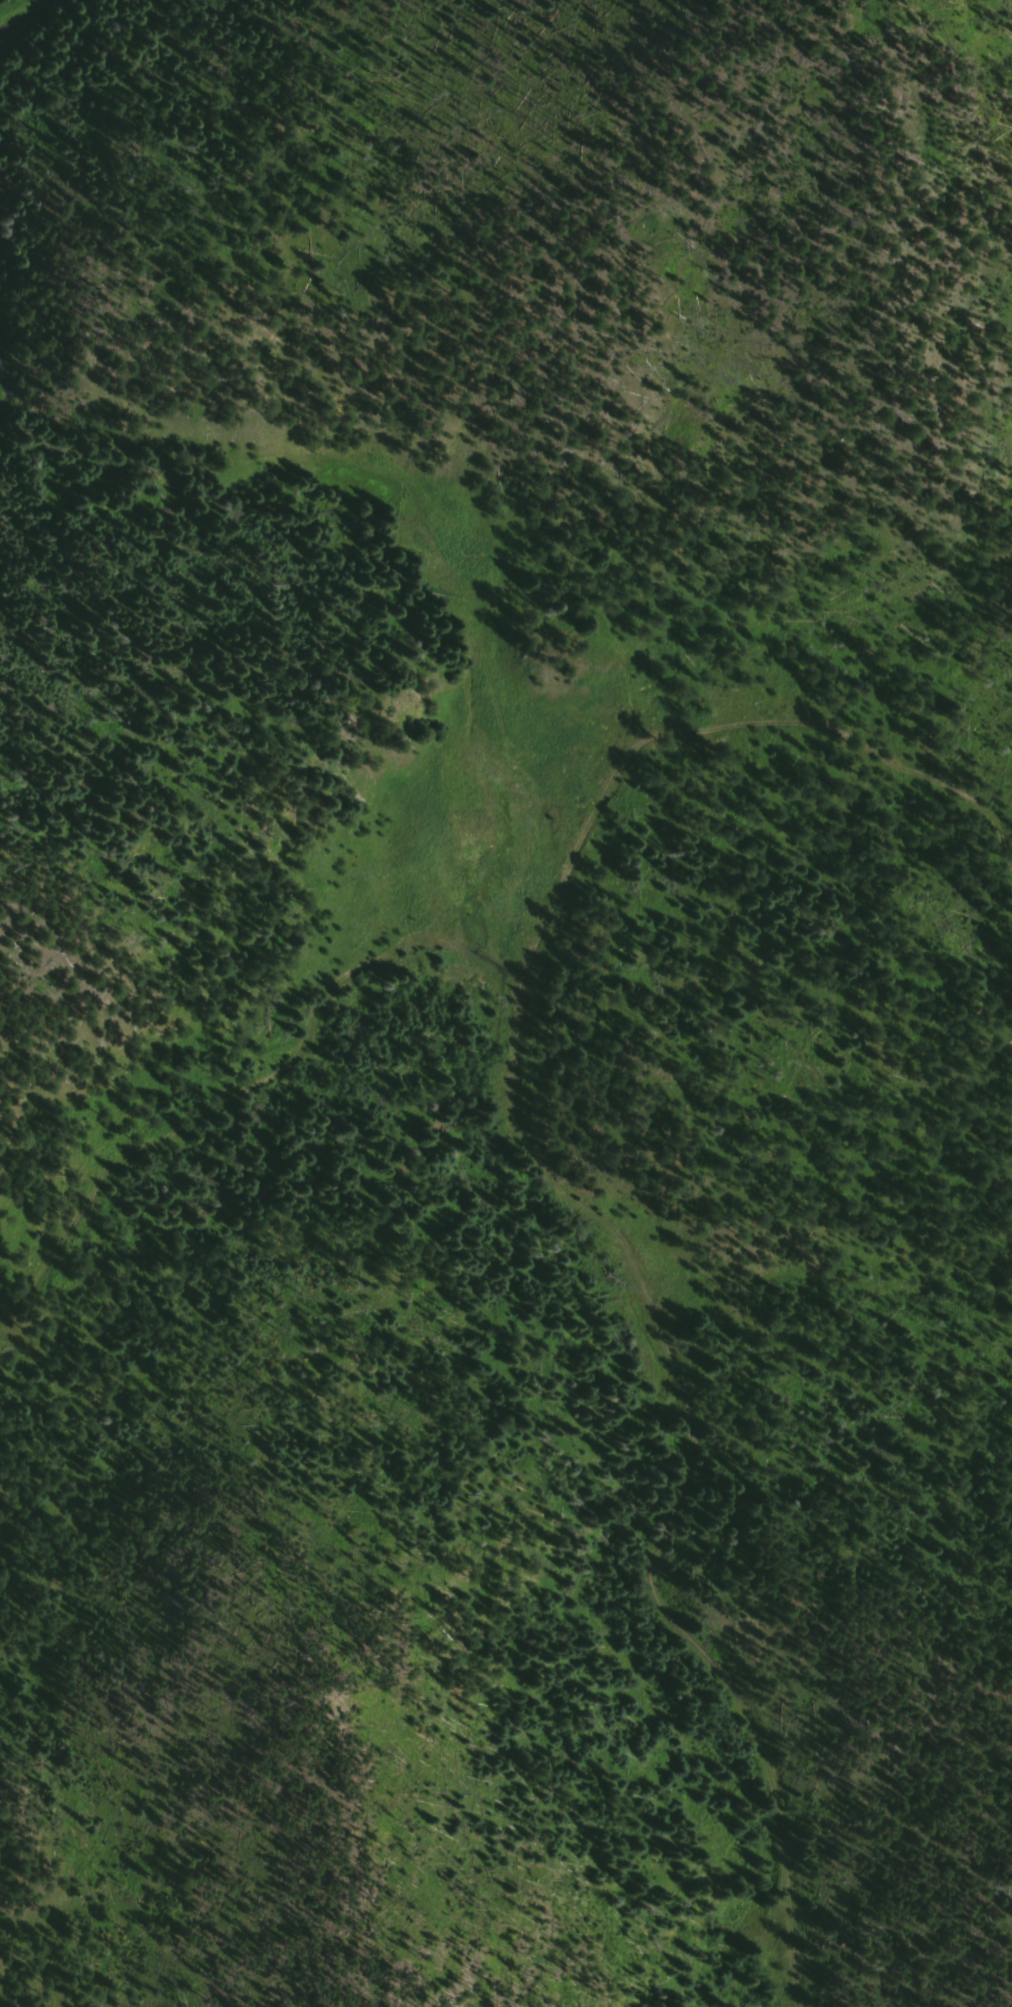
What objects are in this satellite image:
river: (23, 17)
river: (0, 373)

